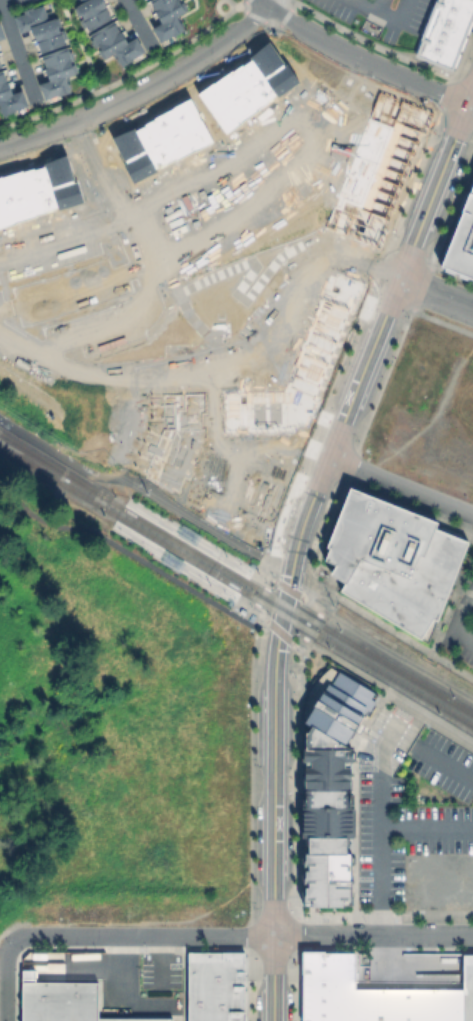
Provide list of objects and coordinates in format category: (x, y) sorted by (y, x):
road: (3, 1)
road: (275, 4)
road: (374, 7)
parking lot: (381, 15)
building: (169, 18)
road: (140, 24)
building: (110, 33)
building: (448, 33)
building: (1, 37)
road: (18, 50)
building: (49, 51)
road: (362, 59)
road: (141, 91)
building: (10, 95)
road: (326, 124)
road: (100, 170)
road: (61, 243)
road: (132, 243)
building: (463, 244)
road: (72, 290)
road: (435, 295)
road: (373, 343)
road: (54, 360)
road: (80, 404)
railway: (27, 461)
railway: (55, 467)
road: (138, 483)
road: (401, 484)
railway: (128, 497)
railway: (110, 529)
railway: (152, 536)
railway: (182, 543)
road: (134, 559)
building: (392, 561)
road: (271, 569)
road: (259, 576)
road: (278, 582)
road: (265, 596)
road: (310, 602)
railway: (287, 605)
road: (247, 607)
railway: (282, 614)
road: (458, 623)
railway: (321, 625)
road: (388, 626)
road: (313, 630)
road: (281, 632)
railway: (316, 634)
road: (403, 657)
railway: (397, 670)
railway: (395, 681)
road: (390, 690)
road: (407, 708)
road: (446, 761)
road: (285, 782)
road: (297, 782)
building: (331, 785)
road: (273, 811)
road: (383, 822)
road: (428, 829)
road: (385, 917)
road: (298, 926)
road: (143, 936)
road: (373, 937)
building: (332, 961)
road: (160, 962)
parking lot: (162, 971)
road: (5, 979)
building: (332, 979)
building: (218, 986)
building: (469, 987)
road: (120, 994)
building: (332, 998)
building: (59, 999)
building: (376, 1004)
building: (430, 1004)
building: (332, 1015)
building: (118, 1018)
building: (155, 1019)

